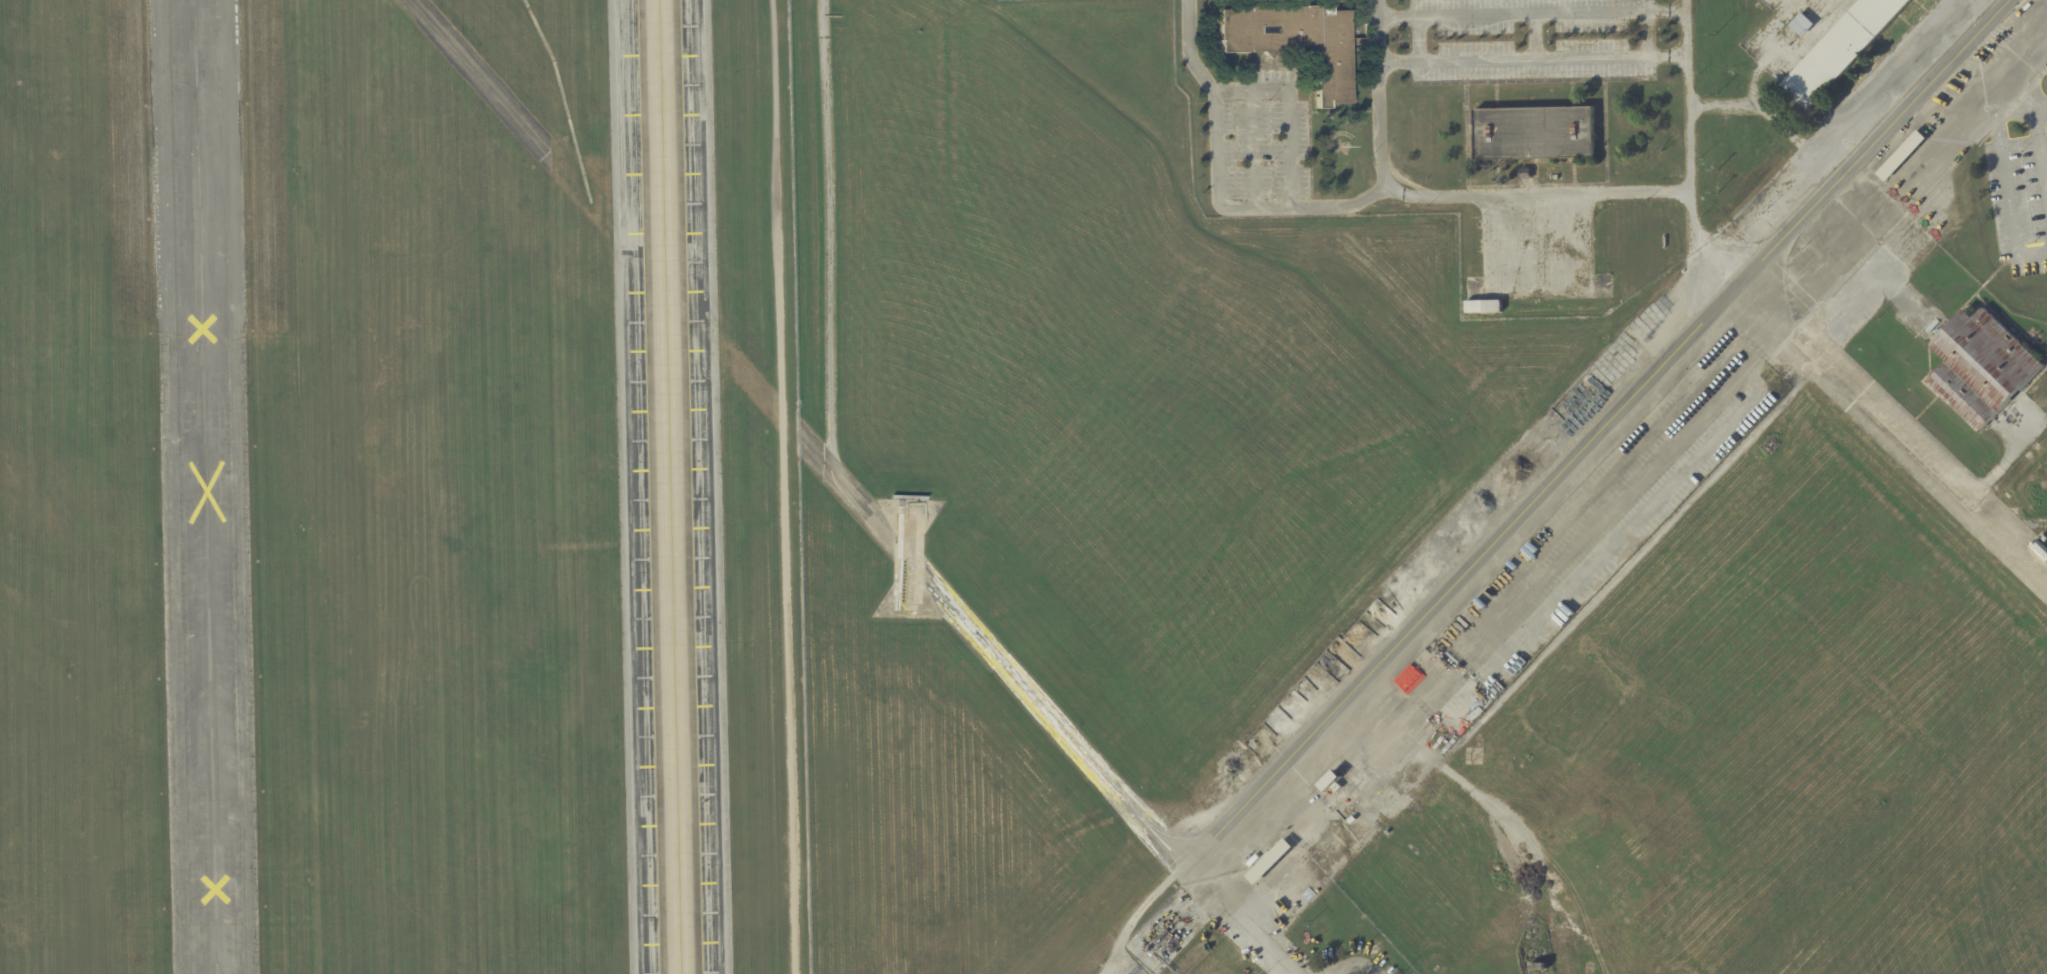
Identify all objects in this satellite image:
road: (1532, 13)
building: (1800, 24)
parking lot: (1532, 38)
building: (1293, 40)
road: (1765, 49)
building: (1841, 49)
road: (1533, 59)
road: (1720, 105)
road: (1291, 108)
building: (1534, 133)
parking lot: (1257, 136)
road: (1795, 139)
road: (1253, 147)
road: (1689, 149)
building: (1900, 157)
building: (1525, 174)
road: (1214, 187)
road: (1444, 196)
building: (1918, 284)
building: (1581, 286)
building: (1484, 306)
building: (1954, 306)
building: (1900, 317)
building: (1981, 368)
building: (1760, 385)
road: (1892, 438)
airport taxiway: (668, 487)
airport: (1023, 487)
building: (2029, 495)
building: (2042, 538)
building: (2040, 549)
building: (1332, 782)
road: (1252, 794)
building: (1249, 858)
building: (1271, 861)
building: (1318, 875)
building: (1538, 966)

